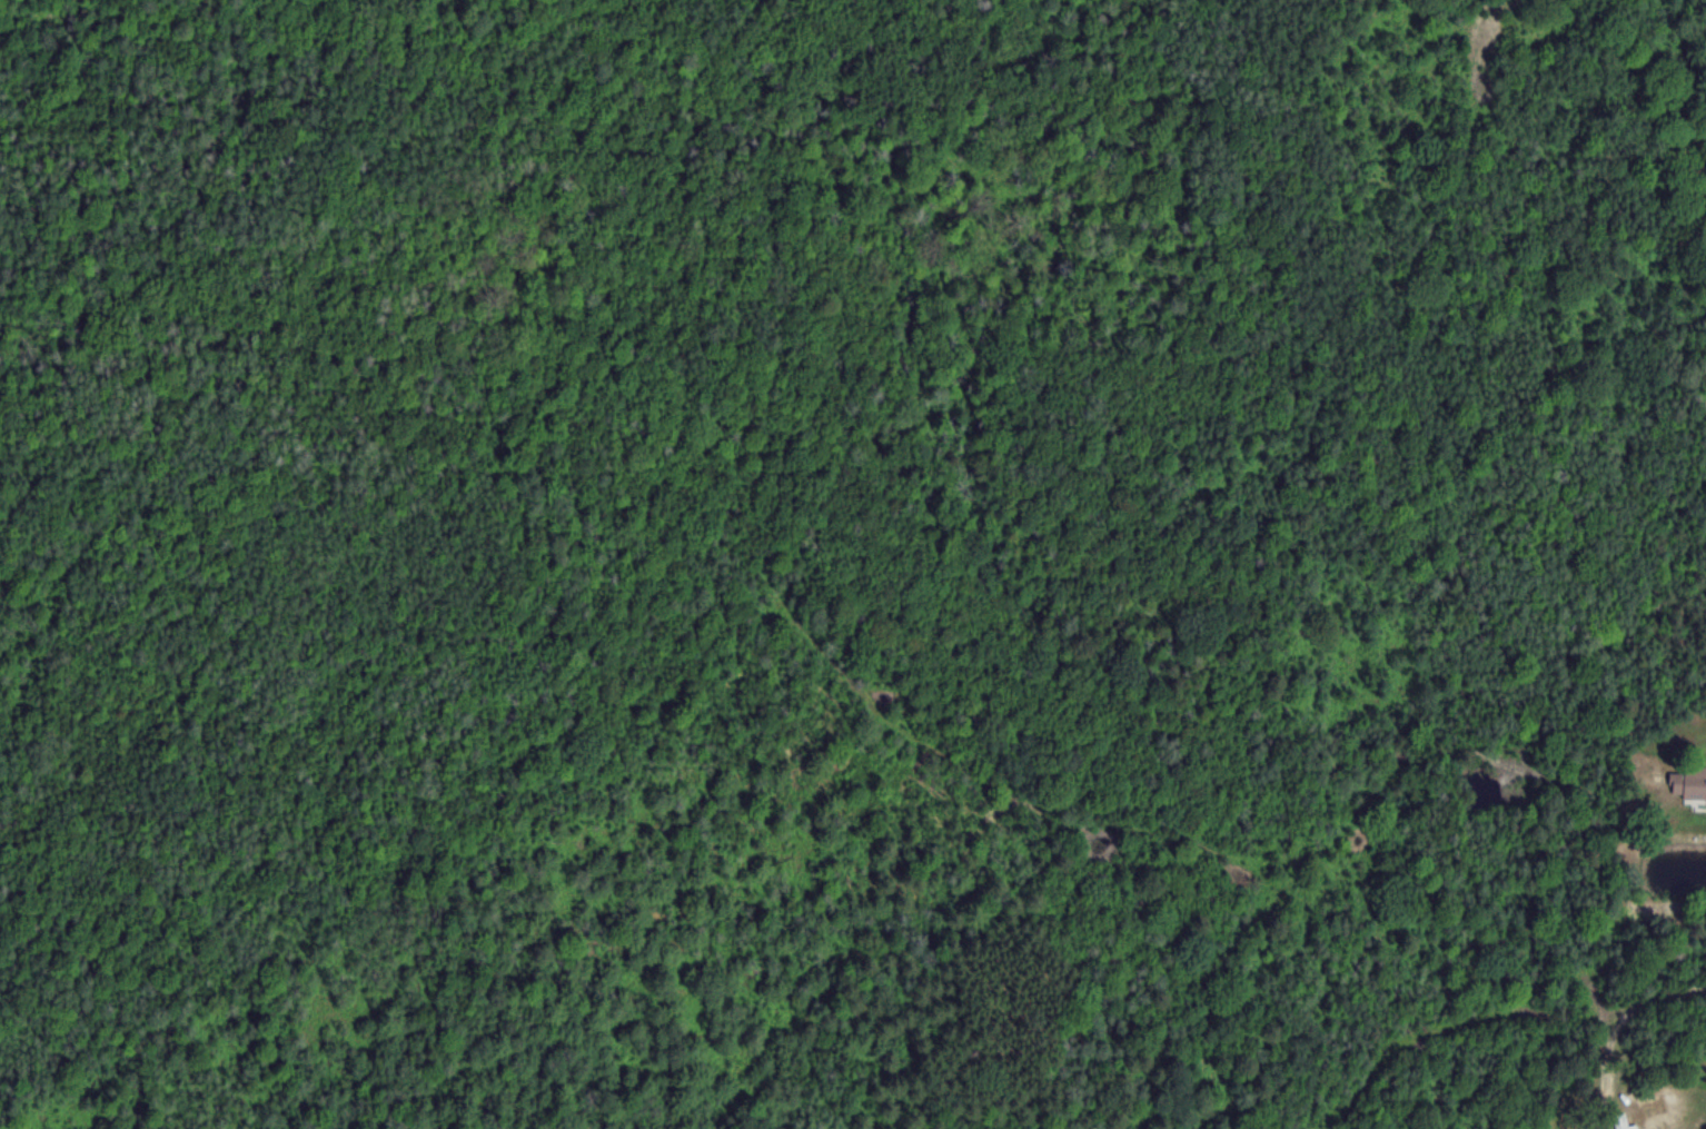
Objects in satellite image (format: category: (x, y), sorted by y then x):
building: (1687, 782)
building: (1620, 1120)

